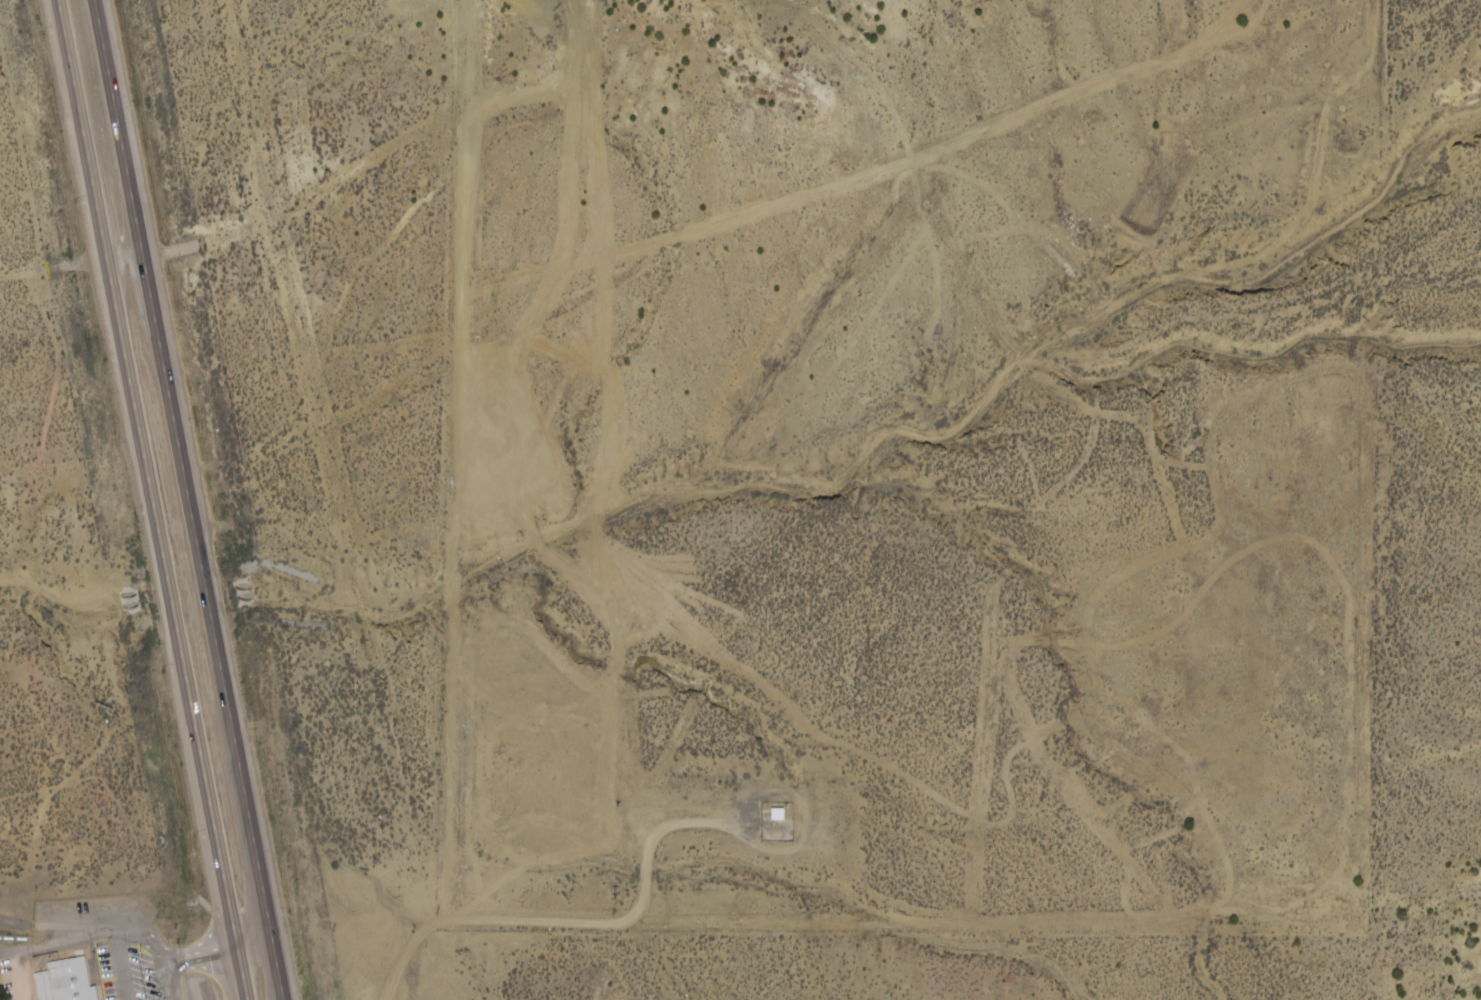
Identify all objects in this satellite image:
road: (469, 167)
road: (661, 239)
road: (315, 374)
road: (153, 500)
road: (192, 500)
road: (461, 633)
building: (780, 813)
road: (667, 836)
road: (353, 924)
road: (439, 930)
road: (130, 937)
building: (72, 974)

